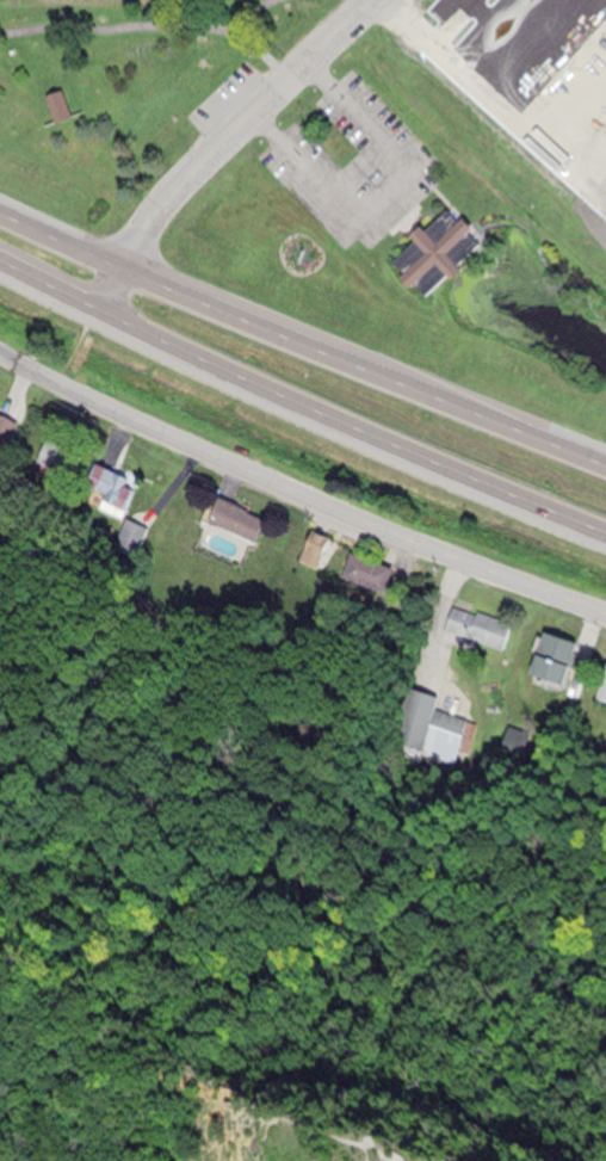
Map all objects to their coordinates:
road: (138, 26)
road: (255, 50)
park: (126, 89)
parking lot: (223, 97)
building: (62, 105)
road: (481, 138)
road: (219, 143)
parking lot: (355, 161)
road: (385, 194)
building: (602, 220)
road: (57, 239)
building: (438, 254)
road: (47, 284)
road: (248, 322)
road: (494, 420)
building: (4, 426)
road: (347, 426)
building: (60, 457)
building: (104, 487)
road: (297, 499)
building: (241, 520)
building: (313, 551)
building: (371, 572)
building: (480, 626)
building: (559, 656)
building: (605, 679)
building: (428, 727)
road: (293, 883)
park: (274, 922)
road: (146, 1035)
road: (359, 1143)

